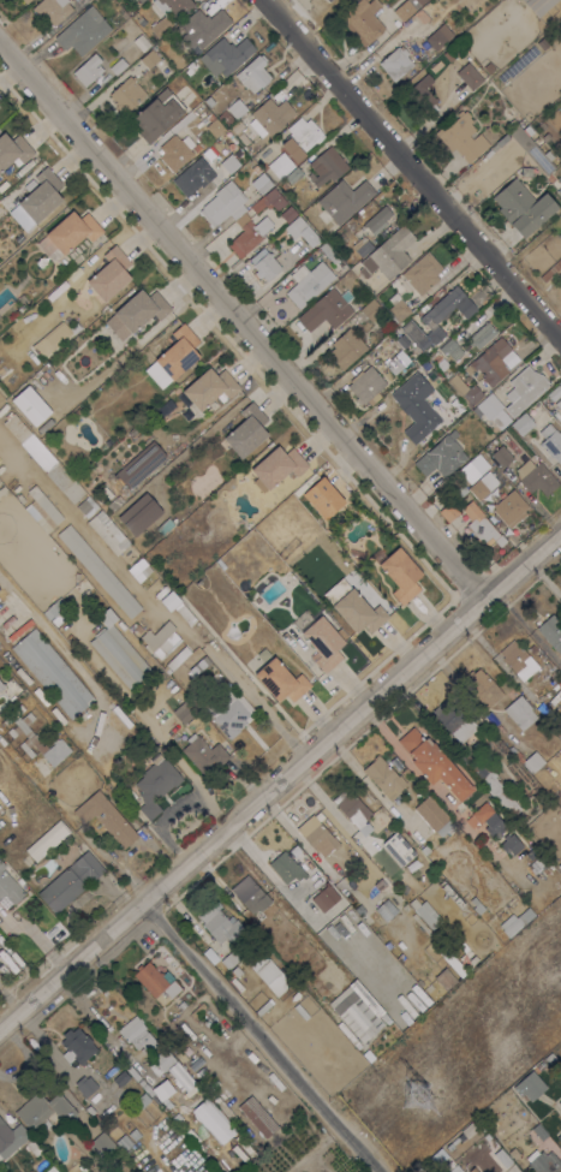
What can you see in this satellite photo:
building: (141, 0)
building: (26, 1)
building: (422, 1)
building: (539, 5)
building: (406, 8)
building: (52, 10)
building: (169, 13)
building: (137, 17)
building: (362, 20)
building: (202, 28)
building: (83, 30)
building: (264, 37)
building: (435, 38)
building: (141, 42)
building: (227, 55)
building: (149, 58)
building: (395, 63)
building: (118, 65)
building: (432, 66)
building: (88, 69)
building: (253, 73)
building: (469, 76)
building: (126, 94)
building: (420, 101)
building: (237, 107)
building: (157, 114)
building: (209, 115)
building: (270, 117)
building: (226, 118)
building: (235, 126)
building: (215, 127)
building: (461, 136)
building: (545, 136)
building: (202, 137)
building: (302, 137)
building: (243, 138)
building: (500, 142)
building: (529, 147)
building: (13, 150)
building: (177, 150)
building: (210, 151)
building: (280, 165)
building: (326, 166)
building: (256, 168)
road: (408, 172)
building: (293, 173)
building: (190, 178)
building: (559, 179)
building: (261, 183)
building: (560, 190)
building: (41, 195)
building: (270, 201)
building: (342, 201)
building: (223, 203)
building: (523, 206)
building: (288, 214)
building: (377, 220)
building: (72, 231)
building: (302, 231)
building: (249, 237)
building: (362, 245)
building: (328, 251)
building: (388, 254)
building: (264, 264)
building: (551, 269)
building: (109, 273)
building: (423, 273)
building: (308, 281)
building: (22, 302)
building: (396, 308)
building: (371, 309)
building: (326, 310)
building: (136, 311)
building: (437, 317)
road: (240, 327)
building: (59, 331)
building: (482, 334)
building: (402, 343)
building: (346, 347)
building: (450, 349)
building: (173, 356)
building: (436, 357)
building: (490, 361)
building: (395, 363)
building: (32, 382)
building: (366, 385)
building: (210, 387)
building: (524, 388)
building: (466, 391)
building: (554, 392)
building: (16, 398)
building: (559, 404)
building: (416, 406)
building: (488, 406)
building: (523, 423)
building: (246, 430)
building: (551, 441)
building: (442, 456)
building: (501, 456)
building: (141, 464)
building: (276, 466)
building: (472, 468)
building: (538, 478)
building: (65, 482)
building: (482, 486)
building: (2, 489)
building: (461, 489)
building: (323, 496)
building: (85, 507)
building: (511, 507)
building: (42, 508)
building: (448, 511)
building: (139, 513)
building: (482, 525)
building: (108, 531)
building: (144, 569)
building: (99, 571)
building: (401, 573)
building: (560, 591)
building: (171, 600)
road: (148, 601)
building: (354, 607)
building: (54, 608)
building: (184, 613)
building: (551, 631)
building: (160, 638)
building: (323, 642)
building: (532, 647)
building: (120, 649)
building: (177, 655)
building: (518, 660)
building: (198, 665)
building: (181, 667)
building: (53, 672)
building: (281, 680)
building: (1, 685)
building: (483, 686)
building: (23, 694)
building: (185, 709)
building: (229, 712)
building: (520, 712)
building: (453, 720)
road: (384, 730)
building: (7, 736)
building: (36, 739)
building: (204, 752)
building: (515, 752)
building: (13, 755)
building: (533, 761)
building: (434, 763)
building: (32, 777)
building: (384, 777)
road: (368, 780)
road: (280, 781)
building: (490, 783)
building: (155, 784)
building: (351, 807)
road: (333, 809)
building: (5, 814)
building: (434, 815)
building: (106, 817)
building: (485, 820)
building: (364, 828)
building: (317, 835)
building: (47, 840)
building: (509, 844)
road: (305, 846)
building: (398, 847)
building: (531, 853)
building: (537, 864)
building: (418, 865)
building: (560, 865)
building: (86, 867)
building: (287, 867)
building: (310, 868)
building: (383, 884)
building: (8, 886)
building: (61, 890)
building: (250, 894)
building: (324, 898)
building: (280, 899)
building: (478, 908)
building: (346, 909)
building: (359, 909)
building: (386, 909)
building: (428, 915)
building: (368, 920)
building: (515, 921)
building: (220, 922)
building: (422, 924)
building: (348, 933)
building: (229, 958)
building: (237, 970)
building: (273, 977)
building: (444, 978)
building: (155, 982)
building: (310, 988)
building: (429, 988)
building: (181, 1004)
building: (356, 1012)
building: (137, 1034)
road: (258, 1039)
building: (381, 1042)
building: (77, 1046)
building: (180, 1055)
building: (549, 1058)
building: (121, 1059)
building: (160, 1061)
building: (133, 1072)
building: (180, 1077)
building: (127, 1083)
building: (85, 1085)
building: (144, 1087)
building: (519, 1088)
building: (162, 1089)
building: (507, 1091)
power tower: (412, 1094)
building: (139, 1102)
building: (560, 1102)
building: (515, 1105)
building: (89, 1108)
building: (43, 1111)
building: (258, 1116)
building: (211, 1120)
building: (1, 1124)
building: (135, 1134)
building: (536, 1134)
building: (16, 1137)
building: (559, 1137)
building: (124, 1141)
building: (101, 1144)
building: (34, 1147)
building: (517, 1149)
building: (437, 1156)
building: (503, 1158)
building: (545, 1162)
building: (82, 1167)
building: (49, 1168)
building: (419, 1170)
building: (455, 1170)
building: (472, 1170)

